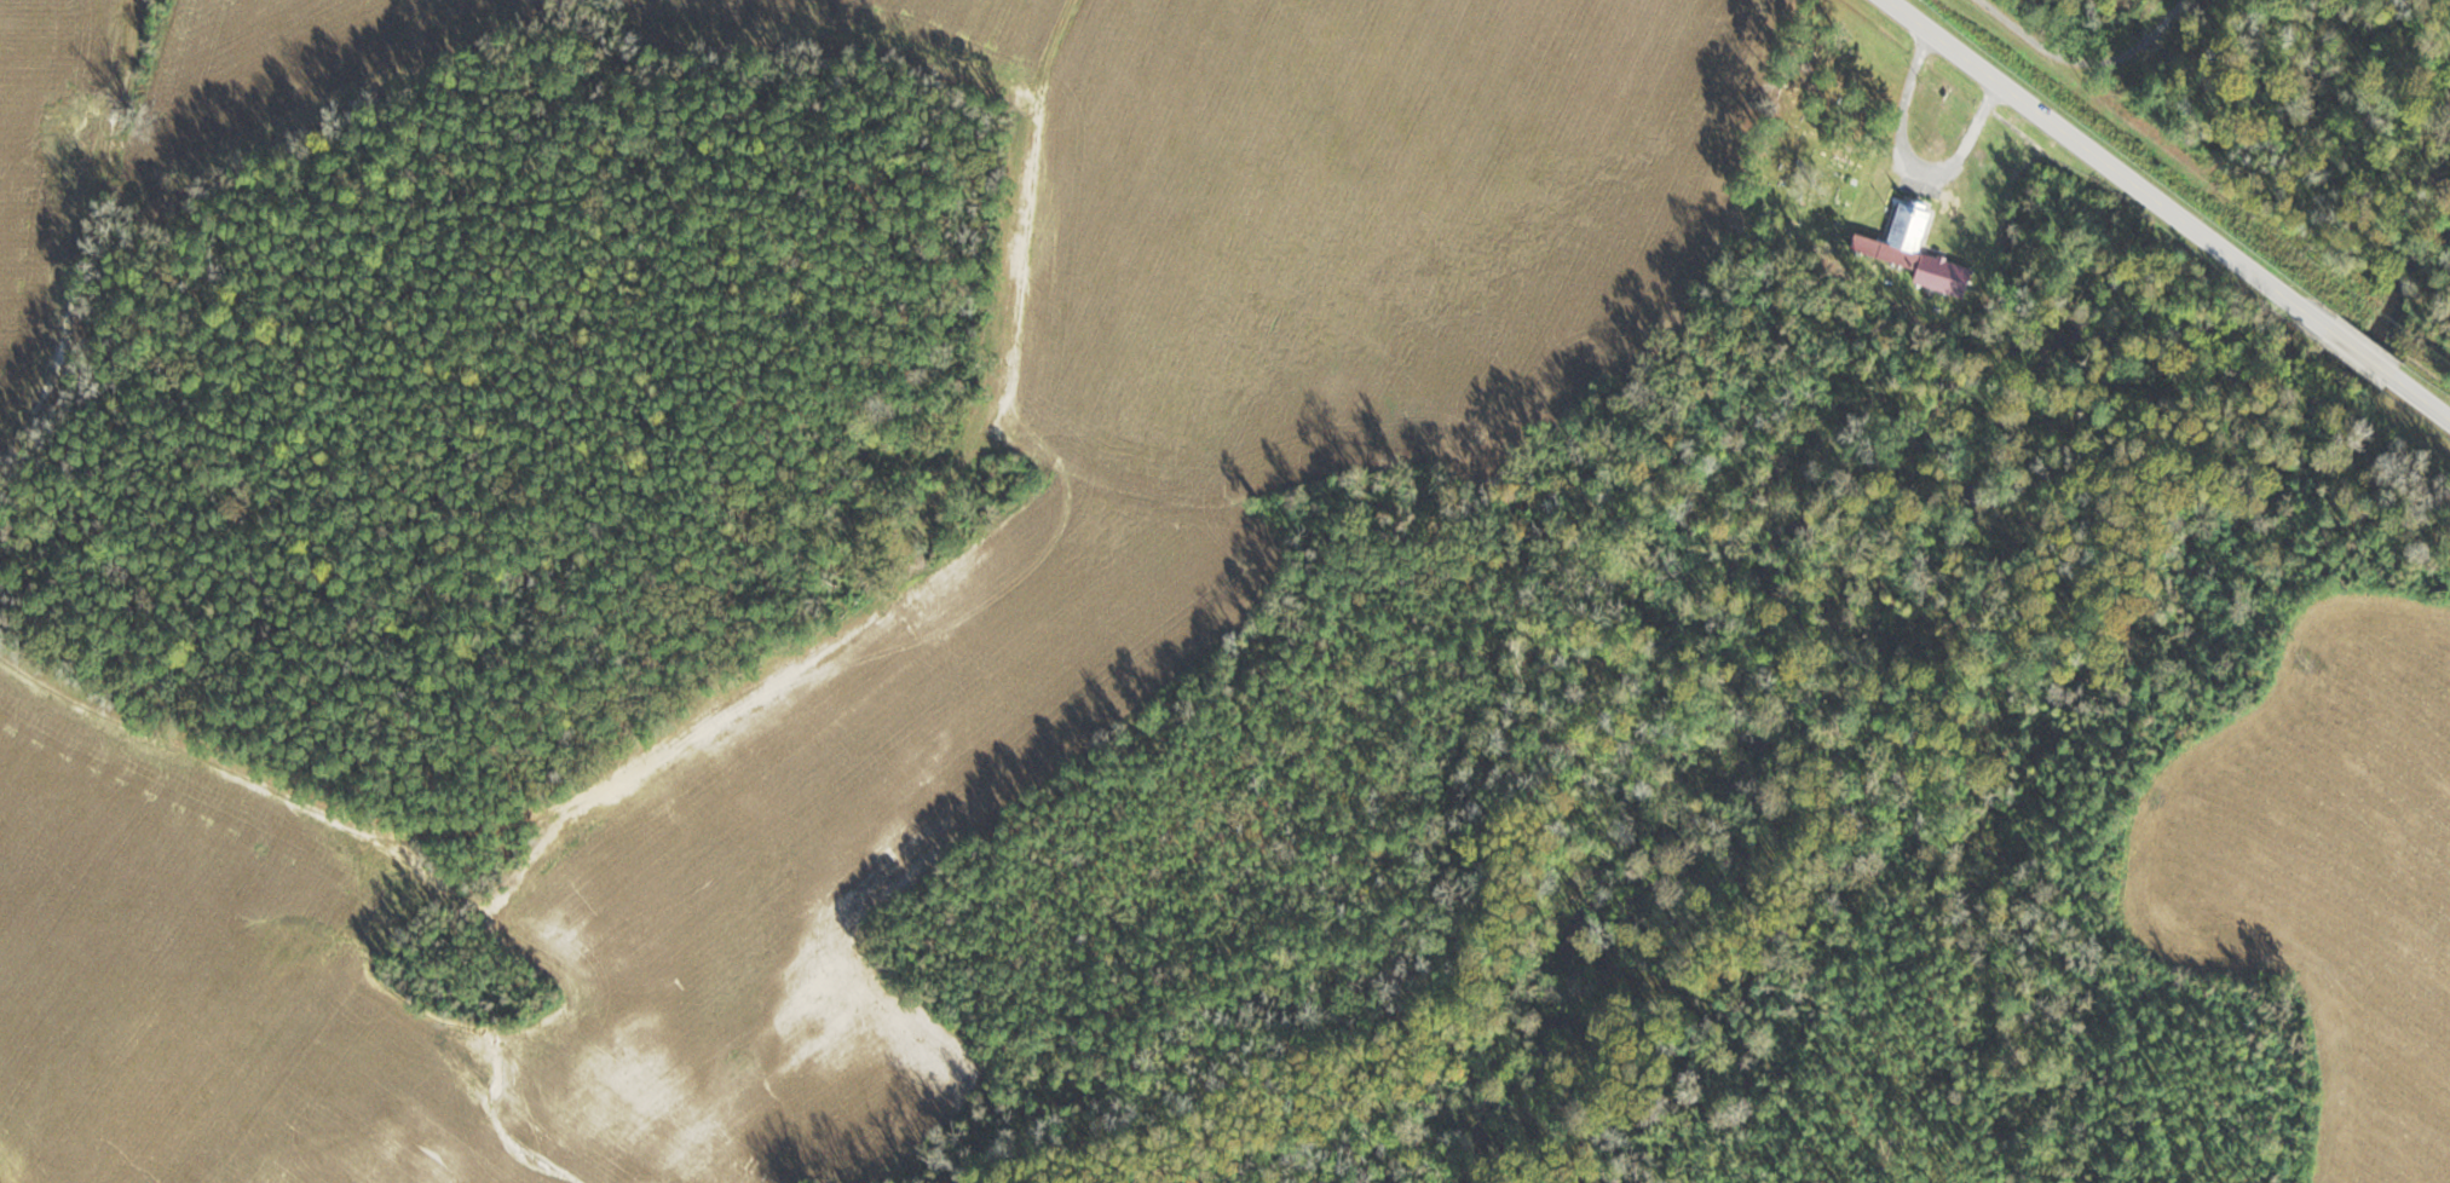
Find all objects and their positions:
road: (2083, 58)
road: (2103, 162)
building: (1916, 248)
road: (2357, 351)
road: (2421, 399)

